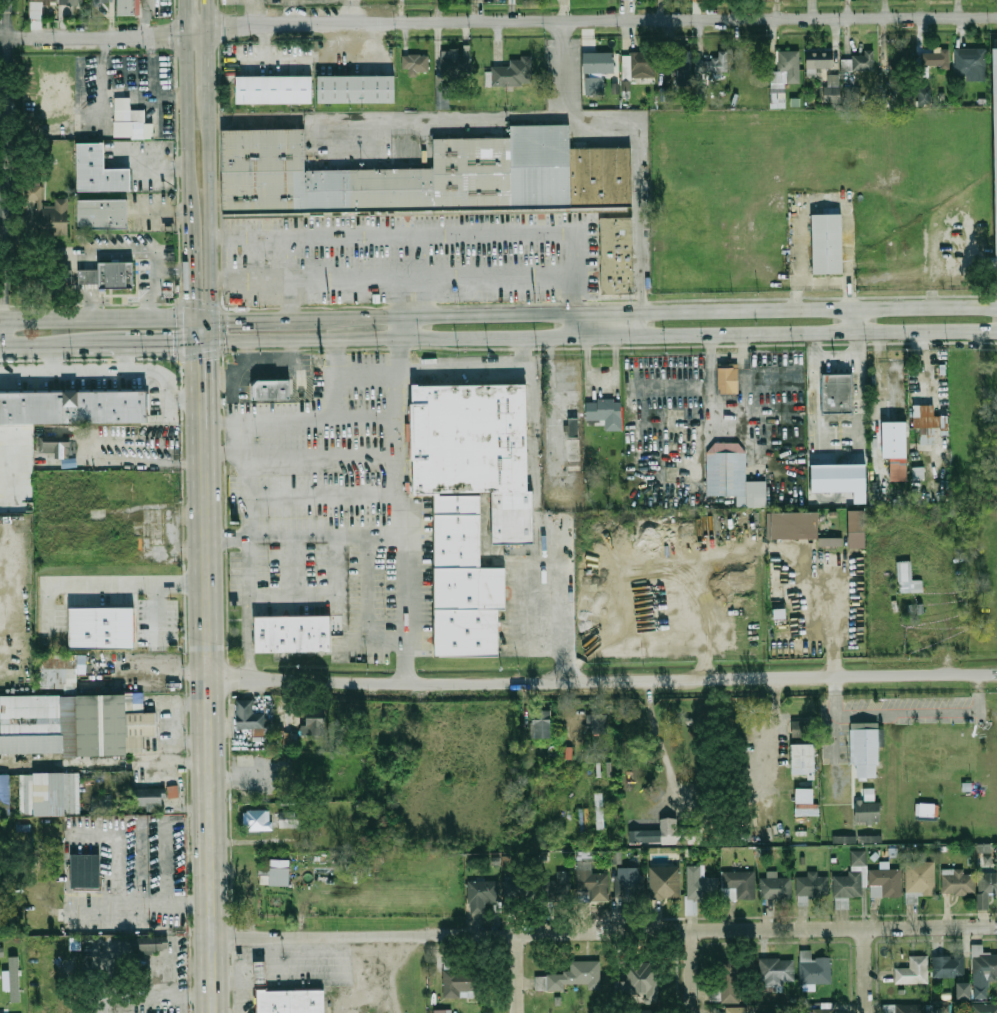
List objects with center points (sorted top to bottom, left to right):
building: (101, 2)
road: (240, 2)
building: (128, 7)
road: (255, 9)
building: (36, 11)
road: (207, 16)
road: (185, 17)
road: (591, 20)
road: (3, 29)
road: (565, 29)
parking lot: (1, 31)
road: (15, 38)
road: (105, 38)
building: (901, 57)
building: (935, 58)
road: (133, 60)
building: (818, 60)
building: (862, 60)
building: (969, 60)
building: (682, 61)
road: (207, 62)
building: (416, 63)
building: (455, 63)
building: (599, 63)
building: (715, 63)
building: (642, 66)
building: (786, 68)
building: (514, 72)
road: (564, 76)
building: (595, 86)
building: (357, 89)
building: (832, 89)
building: (275, 90)
building: (700, 90)
road: (119, 92)
building: (851, 93)
building: (441, 94)
building: (923, 96)
road: (186, 114)
road: (423, 116)
building: (129, 120)
building: (995, 145)
road: (5, 160)
building: (100, 170)
building: (426, 175)
road: (828, 200)
road: (2, 201)
road: (210, 203)
building: (49, 213)
road: (640, 213)
building: (104, 215)
road: (391, 233)
building: (827, 244)
road: (100, 251)
road: (189, 254)
building: (618, 254)
road: (423, 255)
road: (572, 272)
building: (119, 275)
building: (89, 276)
road: (391, 277)
road: (157, 278)
road: (399, 296)
road: (423, 296)
traffic signals: (191, 297)
road: (292, 298)
road: (650, 311)
road: (201, 316)
traffic signals: (229, 317)
road: (257, 317)
road: (95, 318)
road: (642, 322)
road: (854, 322)
road: (572, 323)
road: (399, 326)
road: (191, 330)
road: (603, 333)
road: (2, 334)
road: (211, 342)
road: (201, 343)
road: (136, 344)
traffic signals: (172, 344)
road: (66, 345)
road: (26, 347)
road: (290, 349)
road: (248, 350)
road: (195, 355)
road: (826, 356)
road: (124, 358)
road: (278, 358)
road: (52, 359)
traffic signals: (203, 360)
road: (424, 371)
road: (100, 372)
road: (600, 378)
building: (730, 379)
road: (216, 382)
road: (201, 390)
building: (274, 390)
building: (833, 394)
road: (401, 395)
road: (858, 397)
road: (726, 401)
road: (551, 405)
building: (72, 406)
building: (606, 413)
road: (299, 417)
building: (929, 423)
building: (574, 427)
building: (471, 439)
building: (55, 445)
building: (895, 447)
building: (573, 448)
road: (147, 459)
road: (402, 469)
building: (733, 478)
building: (840, 479)
building: (93, 516)
building: (515, 518)
road: (548, 524)
building: (791, 525)
building: (856, 529)
road: (303, 536)
building: (829, 542)
road: (701, 550)
building: (907, 578)
road: (115, 581)
building: (466, 582)
road: (290, 595)
building: (942, 596)
road: (155, 610)
building: (103, 628)
building: (295, 634)
road: (248, 636)
road: (831, 664)
building: (76, 665)
road: (163, 671)
road: (578, 671)
road: (602, 681)
road: (209, 713)
building: (245, 714)
road: (905, 715)
building: (540, 722)
building: (597, 722)
building: (76, 725)
building: (313, 726)
building: (801, 727)
road: (834, 736)
road: (658, 739)
road: (192, 740)
building: (865, 747)
road: (175, 754)
building: (802, 759)
road: (192, 761)
building: (172, 791)
building: (40, 795)
building: (148, 796)
building: (805, 803)
building: (867, 807)
building: (925, 809)
building: (599, 811)
building: (272, 820)
building: (656, 833)
building: (844, 839)
building: (869, 839)
building: (996, 857)
road: (114, 868)
building: (401, 869)
building: (87, 873)
building: (277, 874)
building: (590, 878)
building: (852, 878)
building: (919, 879)
building: (665, 882)
building: (958, 882)
building: (886, 883)
building: (988, 883)
building: (700, 884)
building: (738, 885)
building: (812, 885)
building: (556, 886)
building: (629, 886)
building: (776, 888)
building: (519, 890)
building: (480, 896)
road: (181, 903)
building: (691, 906)
road: (604, 931)
building: (153, 944)
building: (1, 952)
building: (1, 958)
building: (983, 963)
building: (949, 966)
parking lot: (316, 968)
building: (815, 968)
road: (867, 970)
road: (692, 971)
building: (776, 971)
building: (913, 971)
building: (259, 972)
gas station: (259, 972)
road: (519, 972)
building: (578, 973)
building: (165, 974)
road: (372, 974)
building: (14, 977)
building: (641, 978)
building: (461, 979)
building: (734, 979)
road: (239, 981)
building: (544, 982)
building: (963, 990)
road: (174, 998)
building: (293, 1002)
building: (905, 1008)
building: (984, 1008)
building: (13, 1010)
building: (737, 1010)
building: (442, 1011)
building: (820, 1011)
building: (642, 1012)

